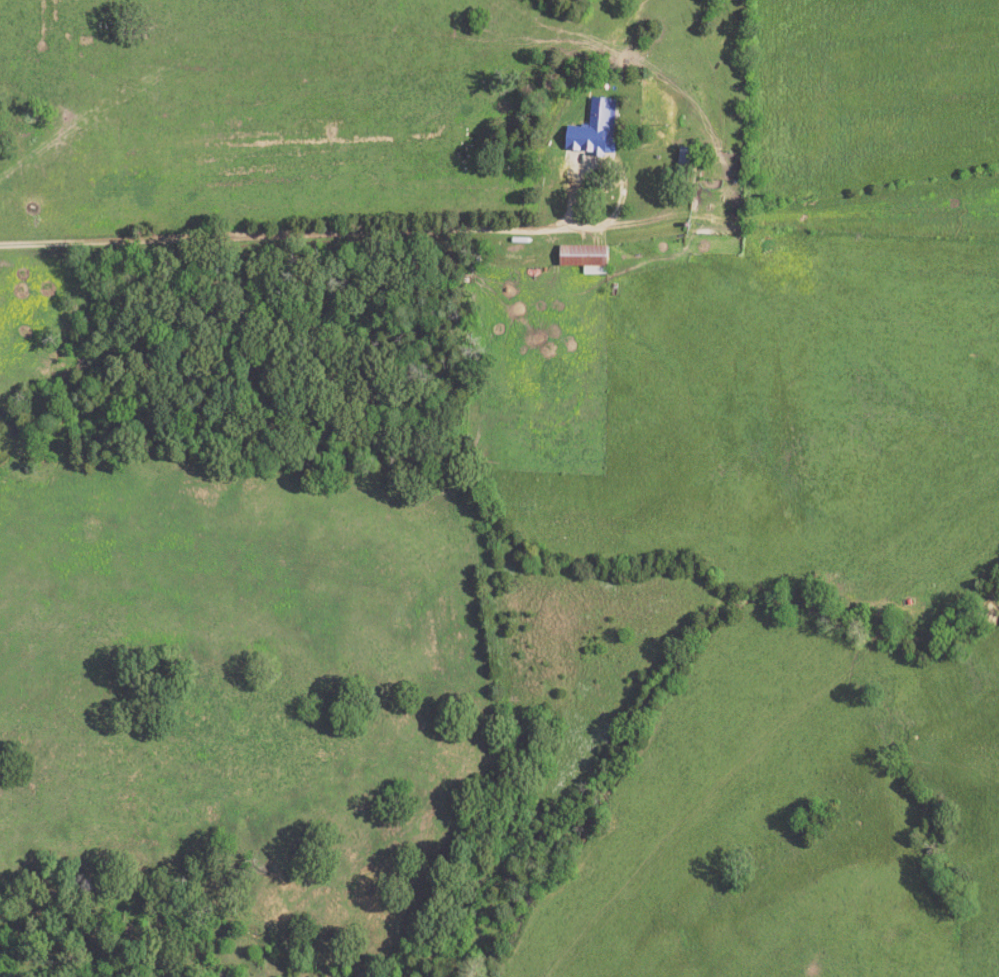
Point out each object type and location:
building: (590, 130)
road: (592, 154)
road: (776, 201)
road: (290, 234)

